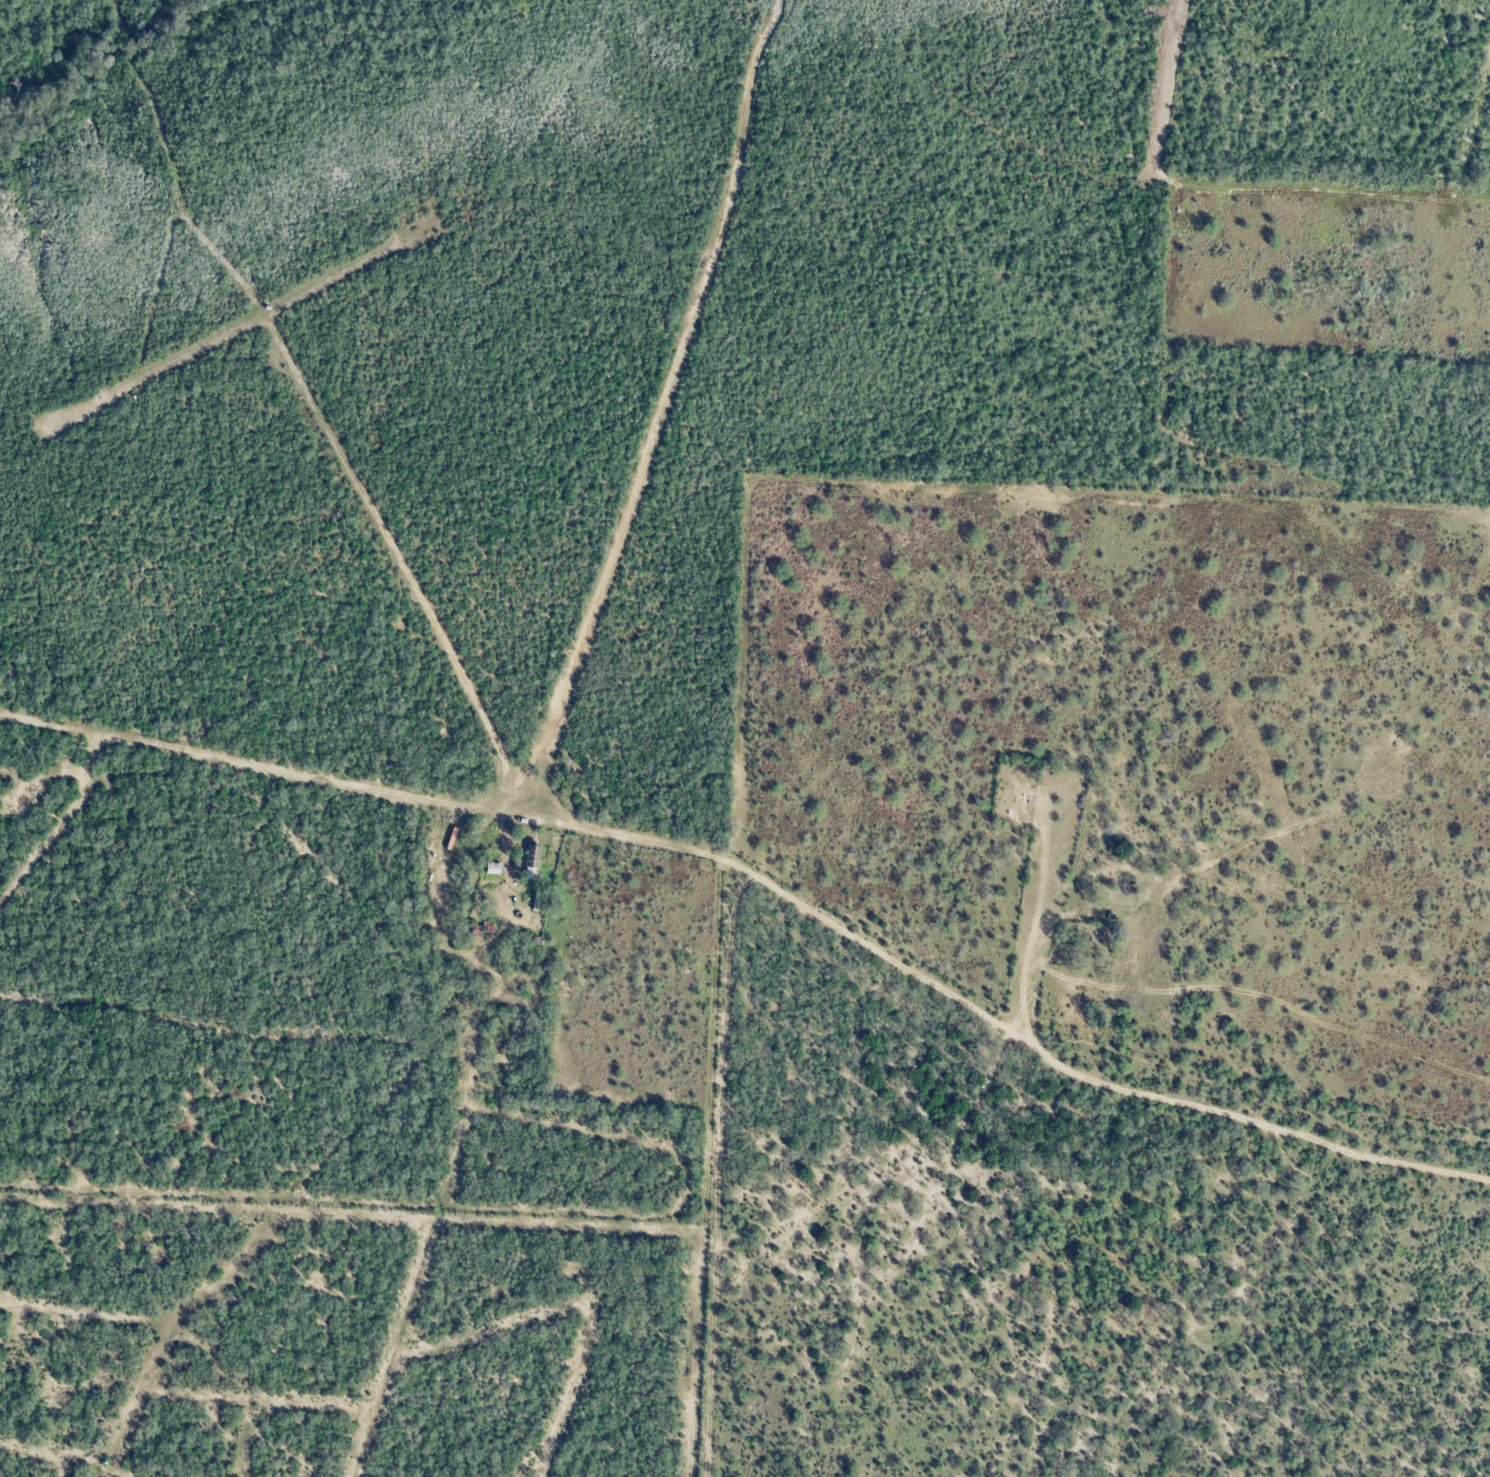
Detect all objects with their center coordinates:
building: (533, 855)
building: (494, 867)

